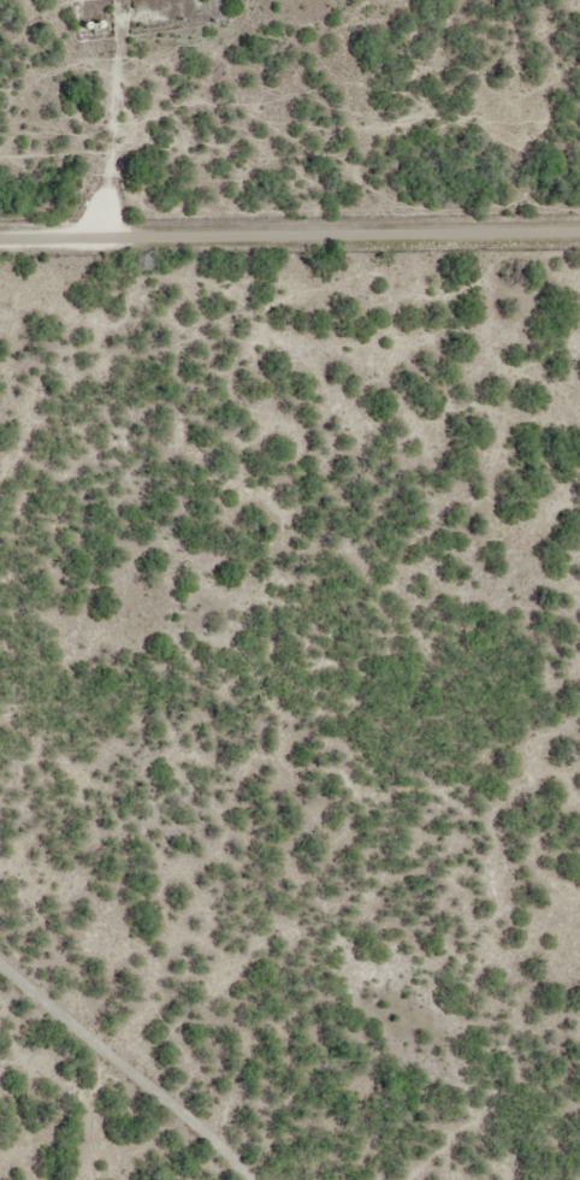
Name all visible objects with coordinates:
road: (290, 236)
road: (148, 1045)

